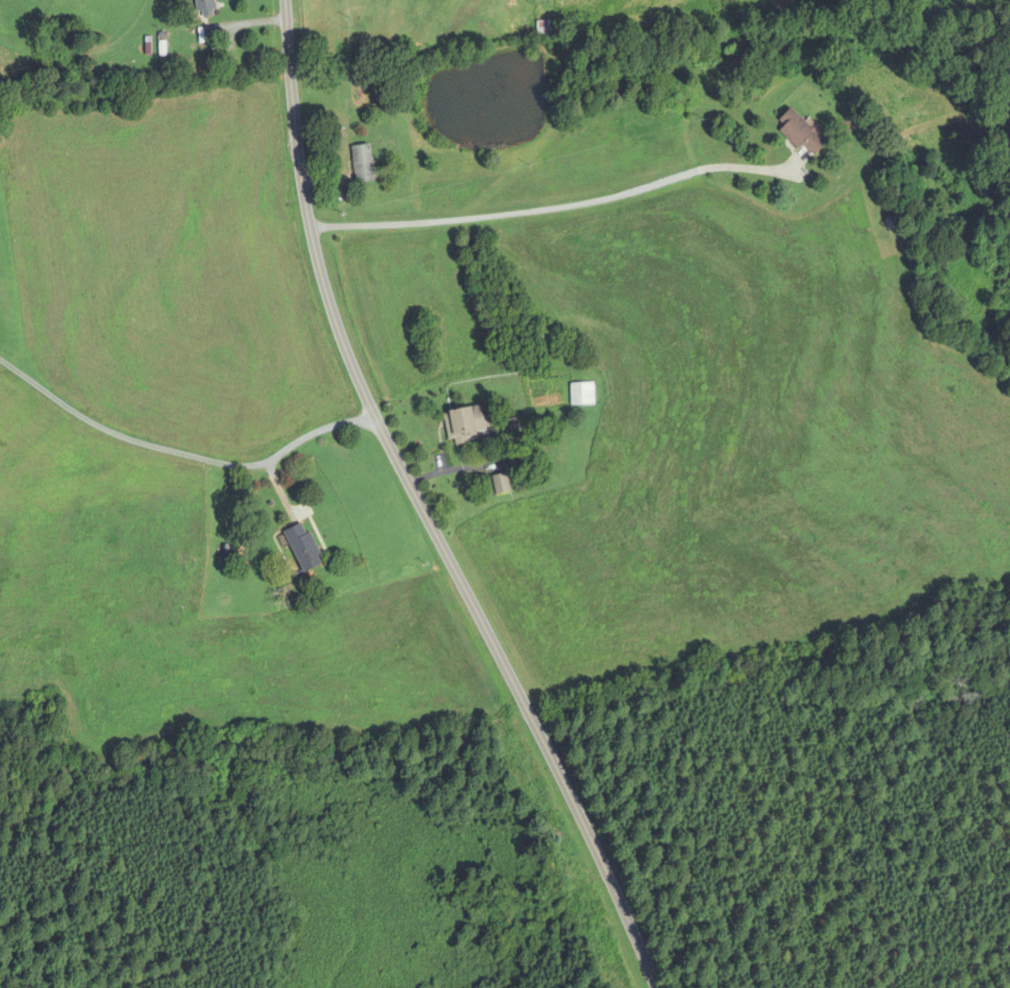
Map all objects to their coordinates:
building: (203, 7)
building: (799, 132)
building: (361, 164)
road: (553, 207)
building: (581, 394)
building: (465, 424)
road: (181, 453)
building: (500, 484)
road: (422, 508)
building: (302, 547)

